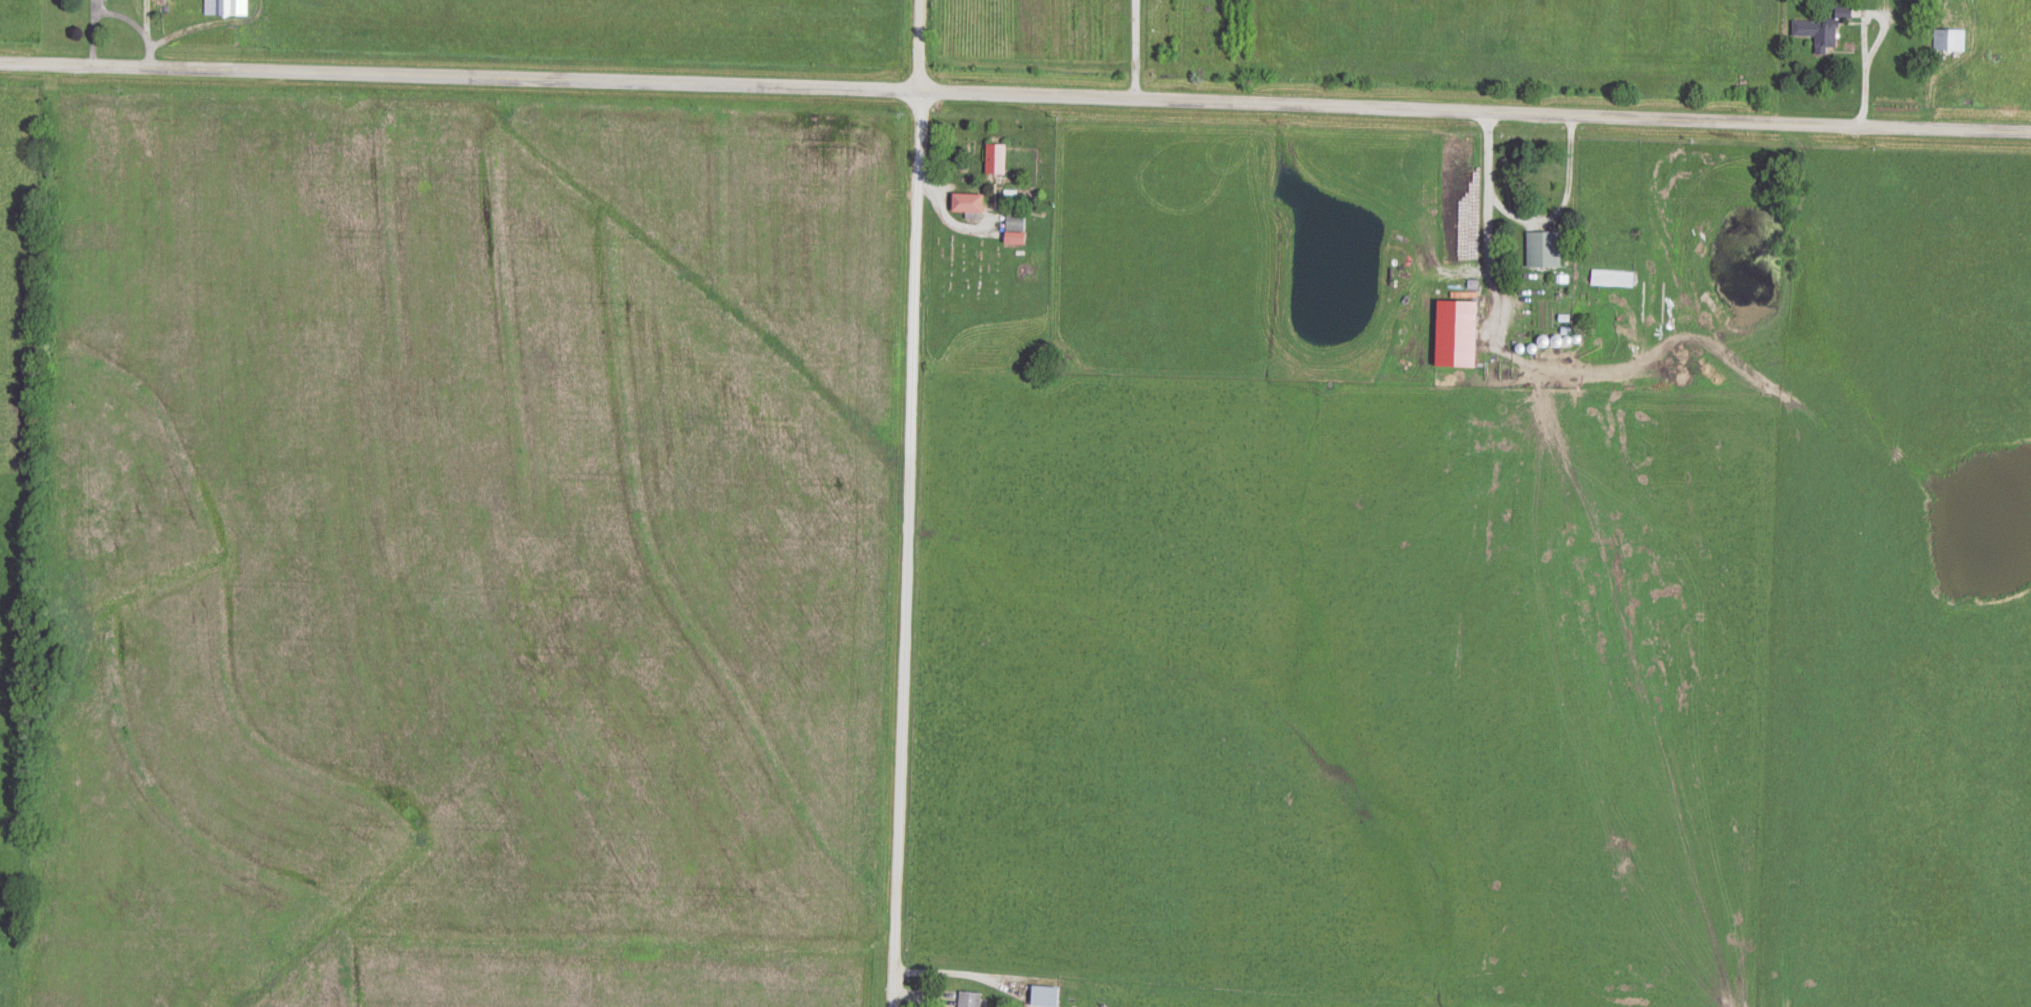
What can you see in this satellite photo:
building: (1927, 0)
building: (226, 8)
building: (1817, 33)
building: (1949, 39)
road: (1105, 54)
road: (1015, 106)
building: (995, 158)
building: (967, 202)
building: (1015, 227)
road: (1528, 227)
building: (1543, 249)
building: (1612, 278)
building: (1455, 332)
road: (894, 503)
crop: (471, 547)
crop: (14, 972)
building: (1044, 996)
building: (968, 999)

